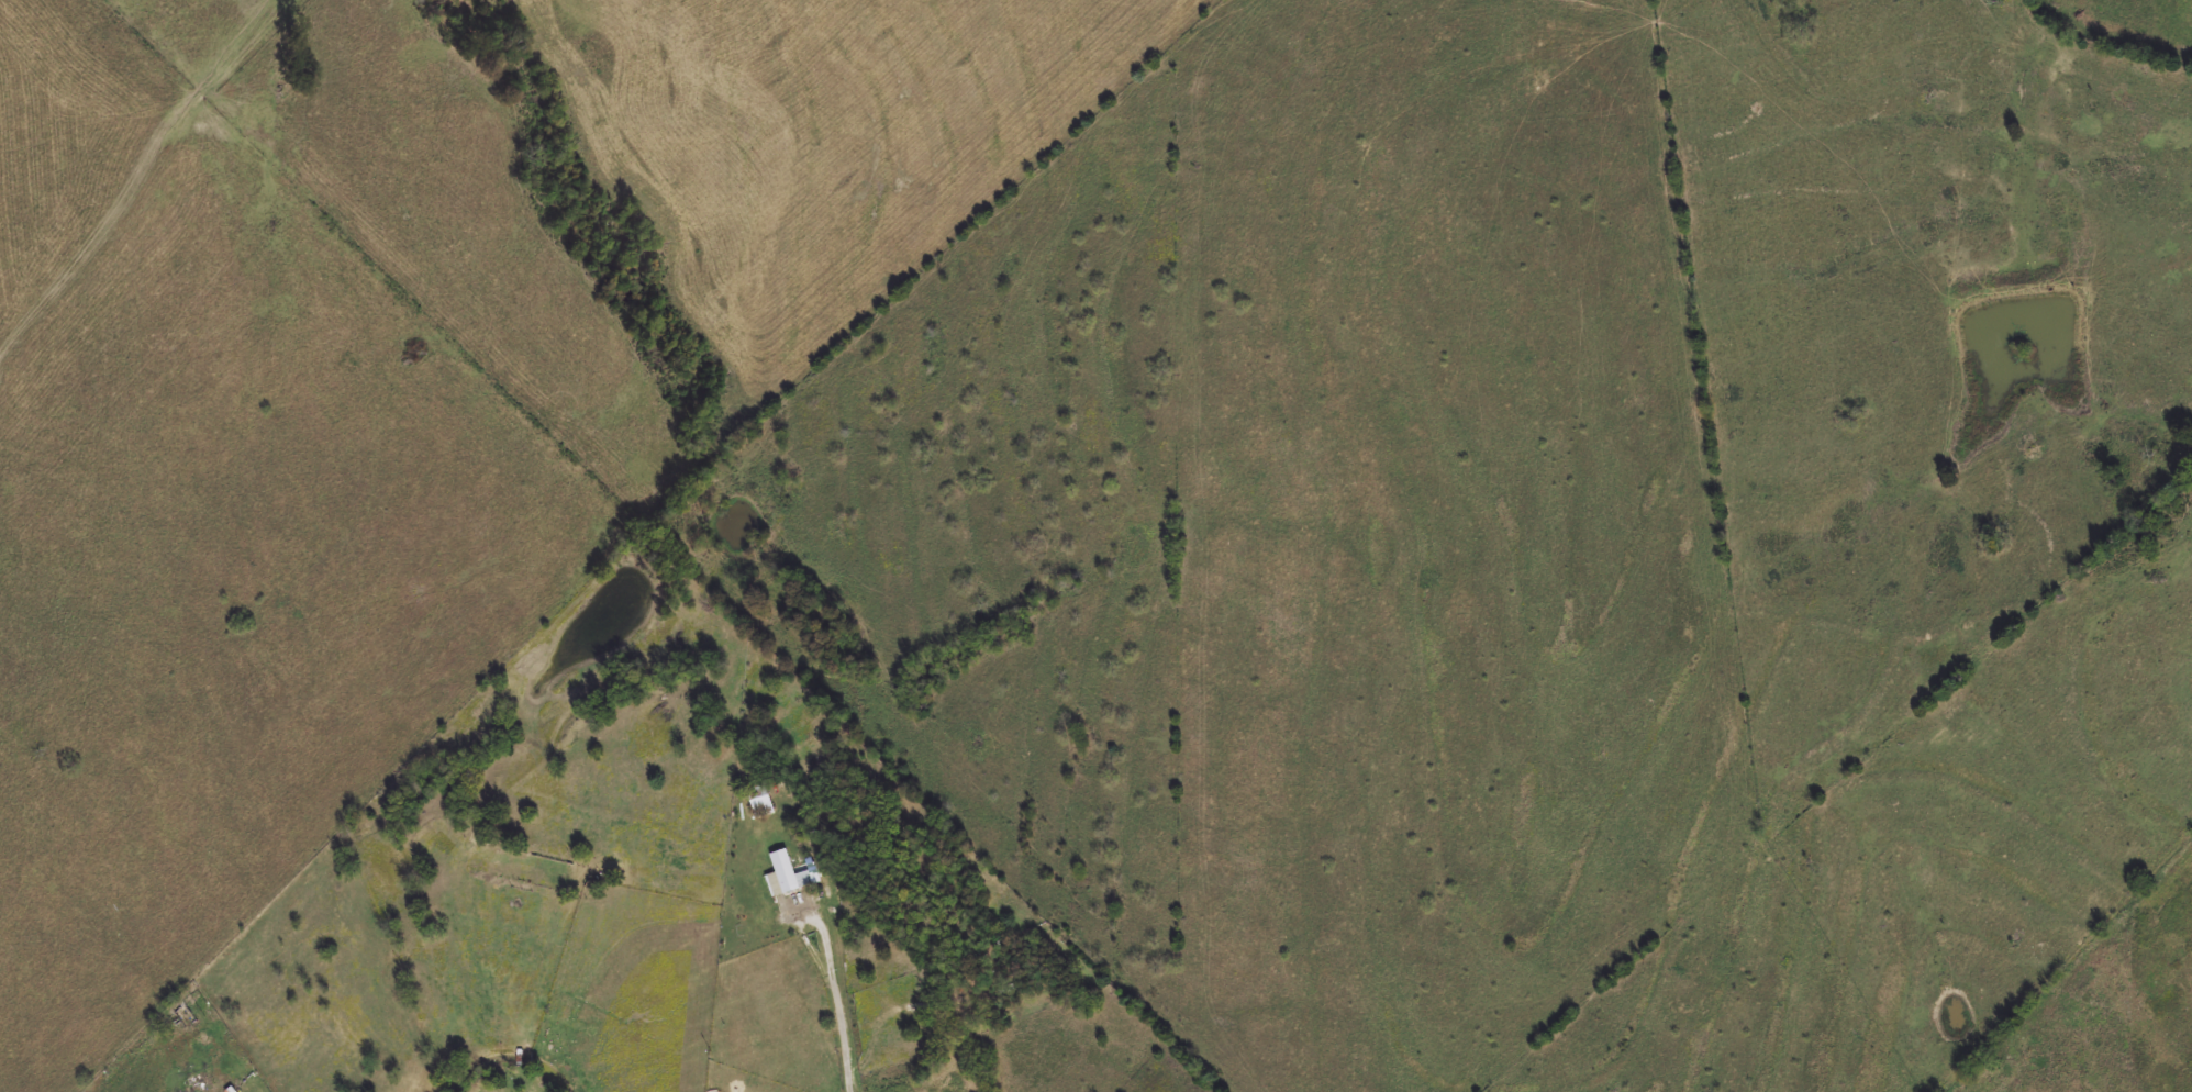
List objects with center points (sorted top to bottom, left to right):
building: (758, 792)
building: (786, 871)
building: (520, 885)
building: (755, 961)
road: (842, 1006)

